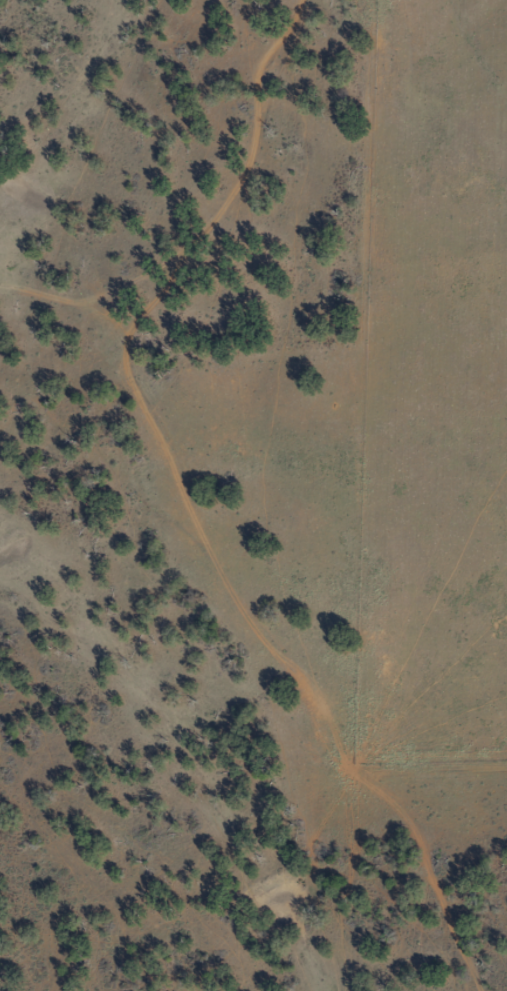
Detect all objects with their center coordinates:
road: (159, 514)

